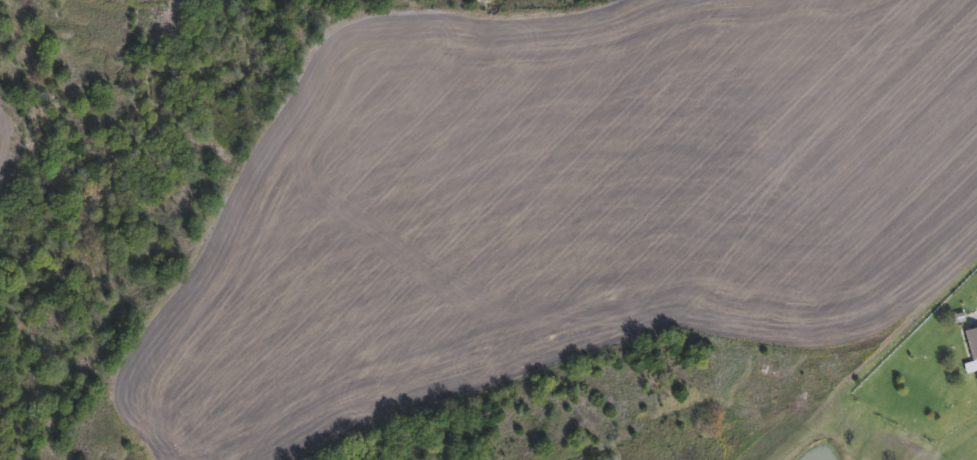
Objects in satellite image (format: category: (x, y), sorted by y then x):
road: (973, 312)
building: (972, 349)

